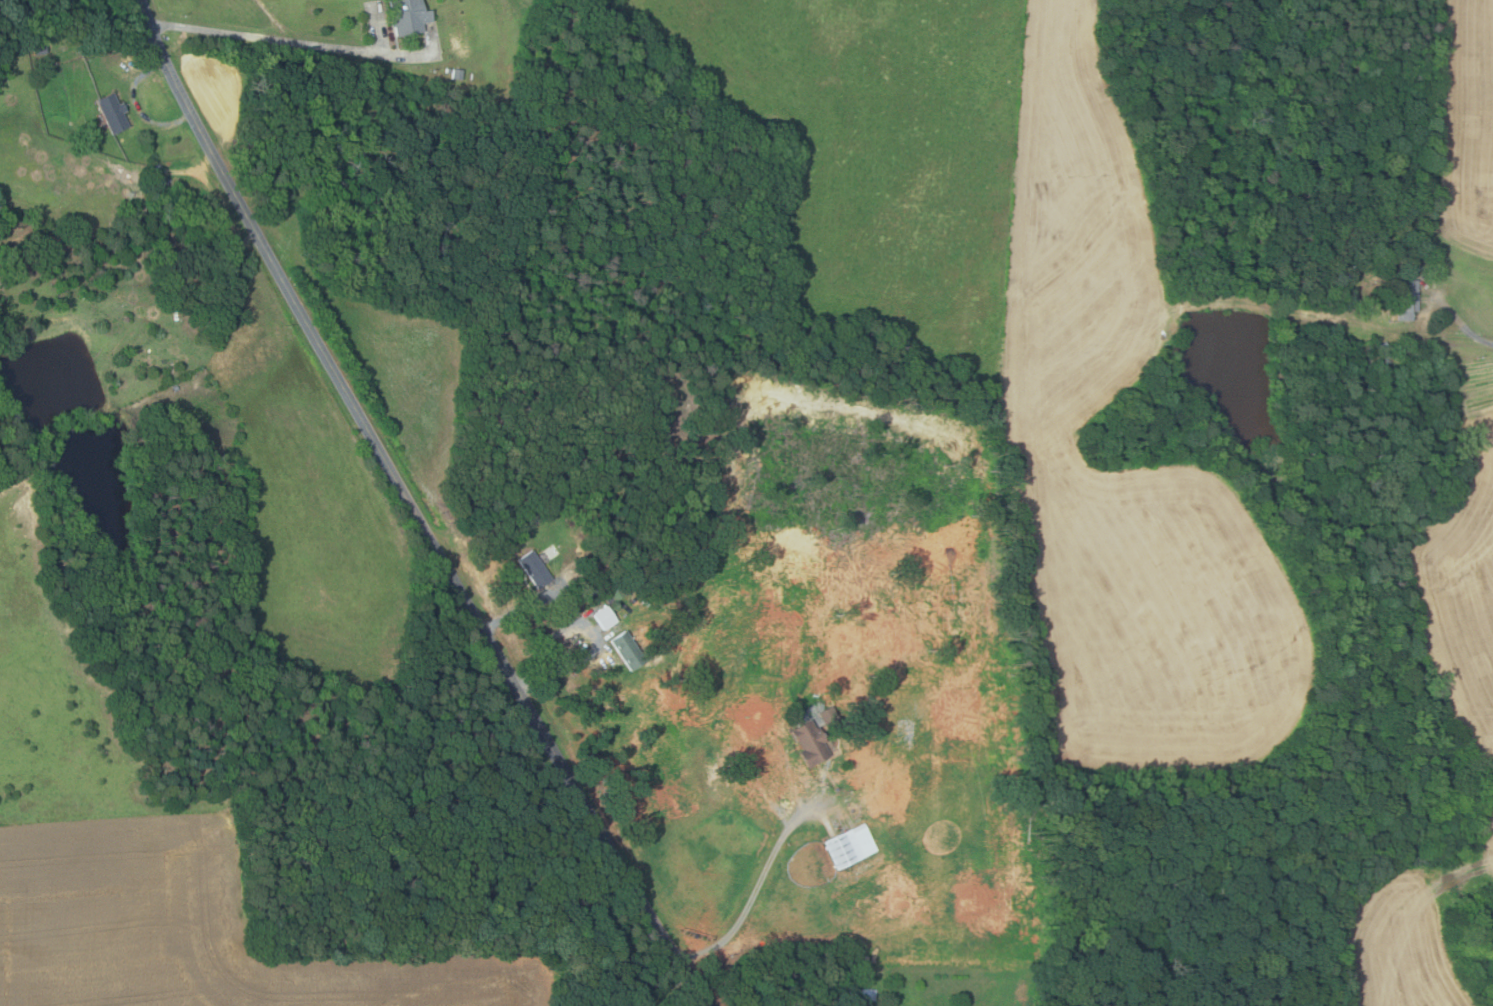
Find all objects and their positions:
building: (406, 17)
road: (283, 40)
building: (41, 50)
building: (447, 70)
building: (455, 74)
road: (138, 104)
building: (114, 113)
crop: (1466, 128)
building: (1403, 260)
building: (4, 290)
building: (1406, 300)
road: (1454, 316)
crop: (1121, 467)
road: (412, 509)
building: (532, 569)
crop: (1461, 578)
building: (587, 591)
building: (617, 593)
road: (520, 610)
building: (602, 617)
building: (625, 650)
road: (559, 668)
building: (827, 717)
building: (903, 736)
building: (808, 742)
building: (713, 771)
building: (871, 772)
building: (836, 789)
crop: (1488, 847)
building: (841, 848)
building: (839, 874)
road: (754, 885)
crop: (194, 929)
crop: (1398, 945)
building: (860, 973)
road: (661, 990)
building: (864, 993)
crop: (1025, 993)

